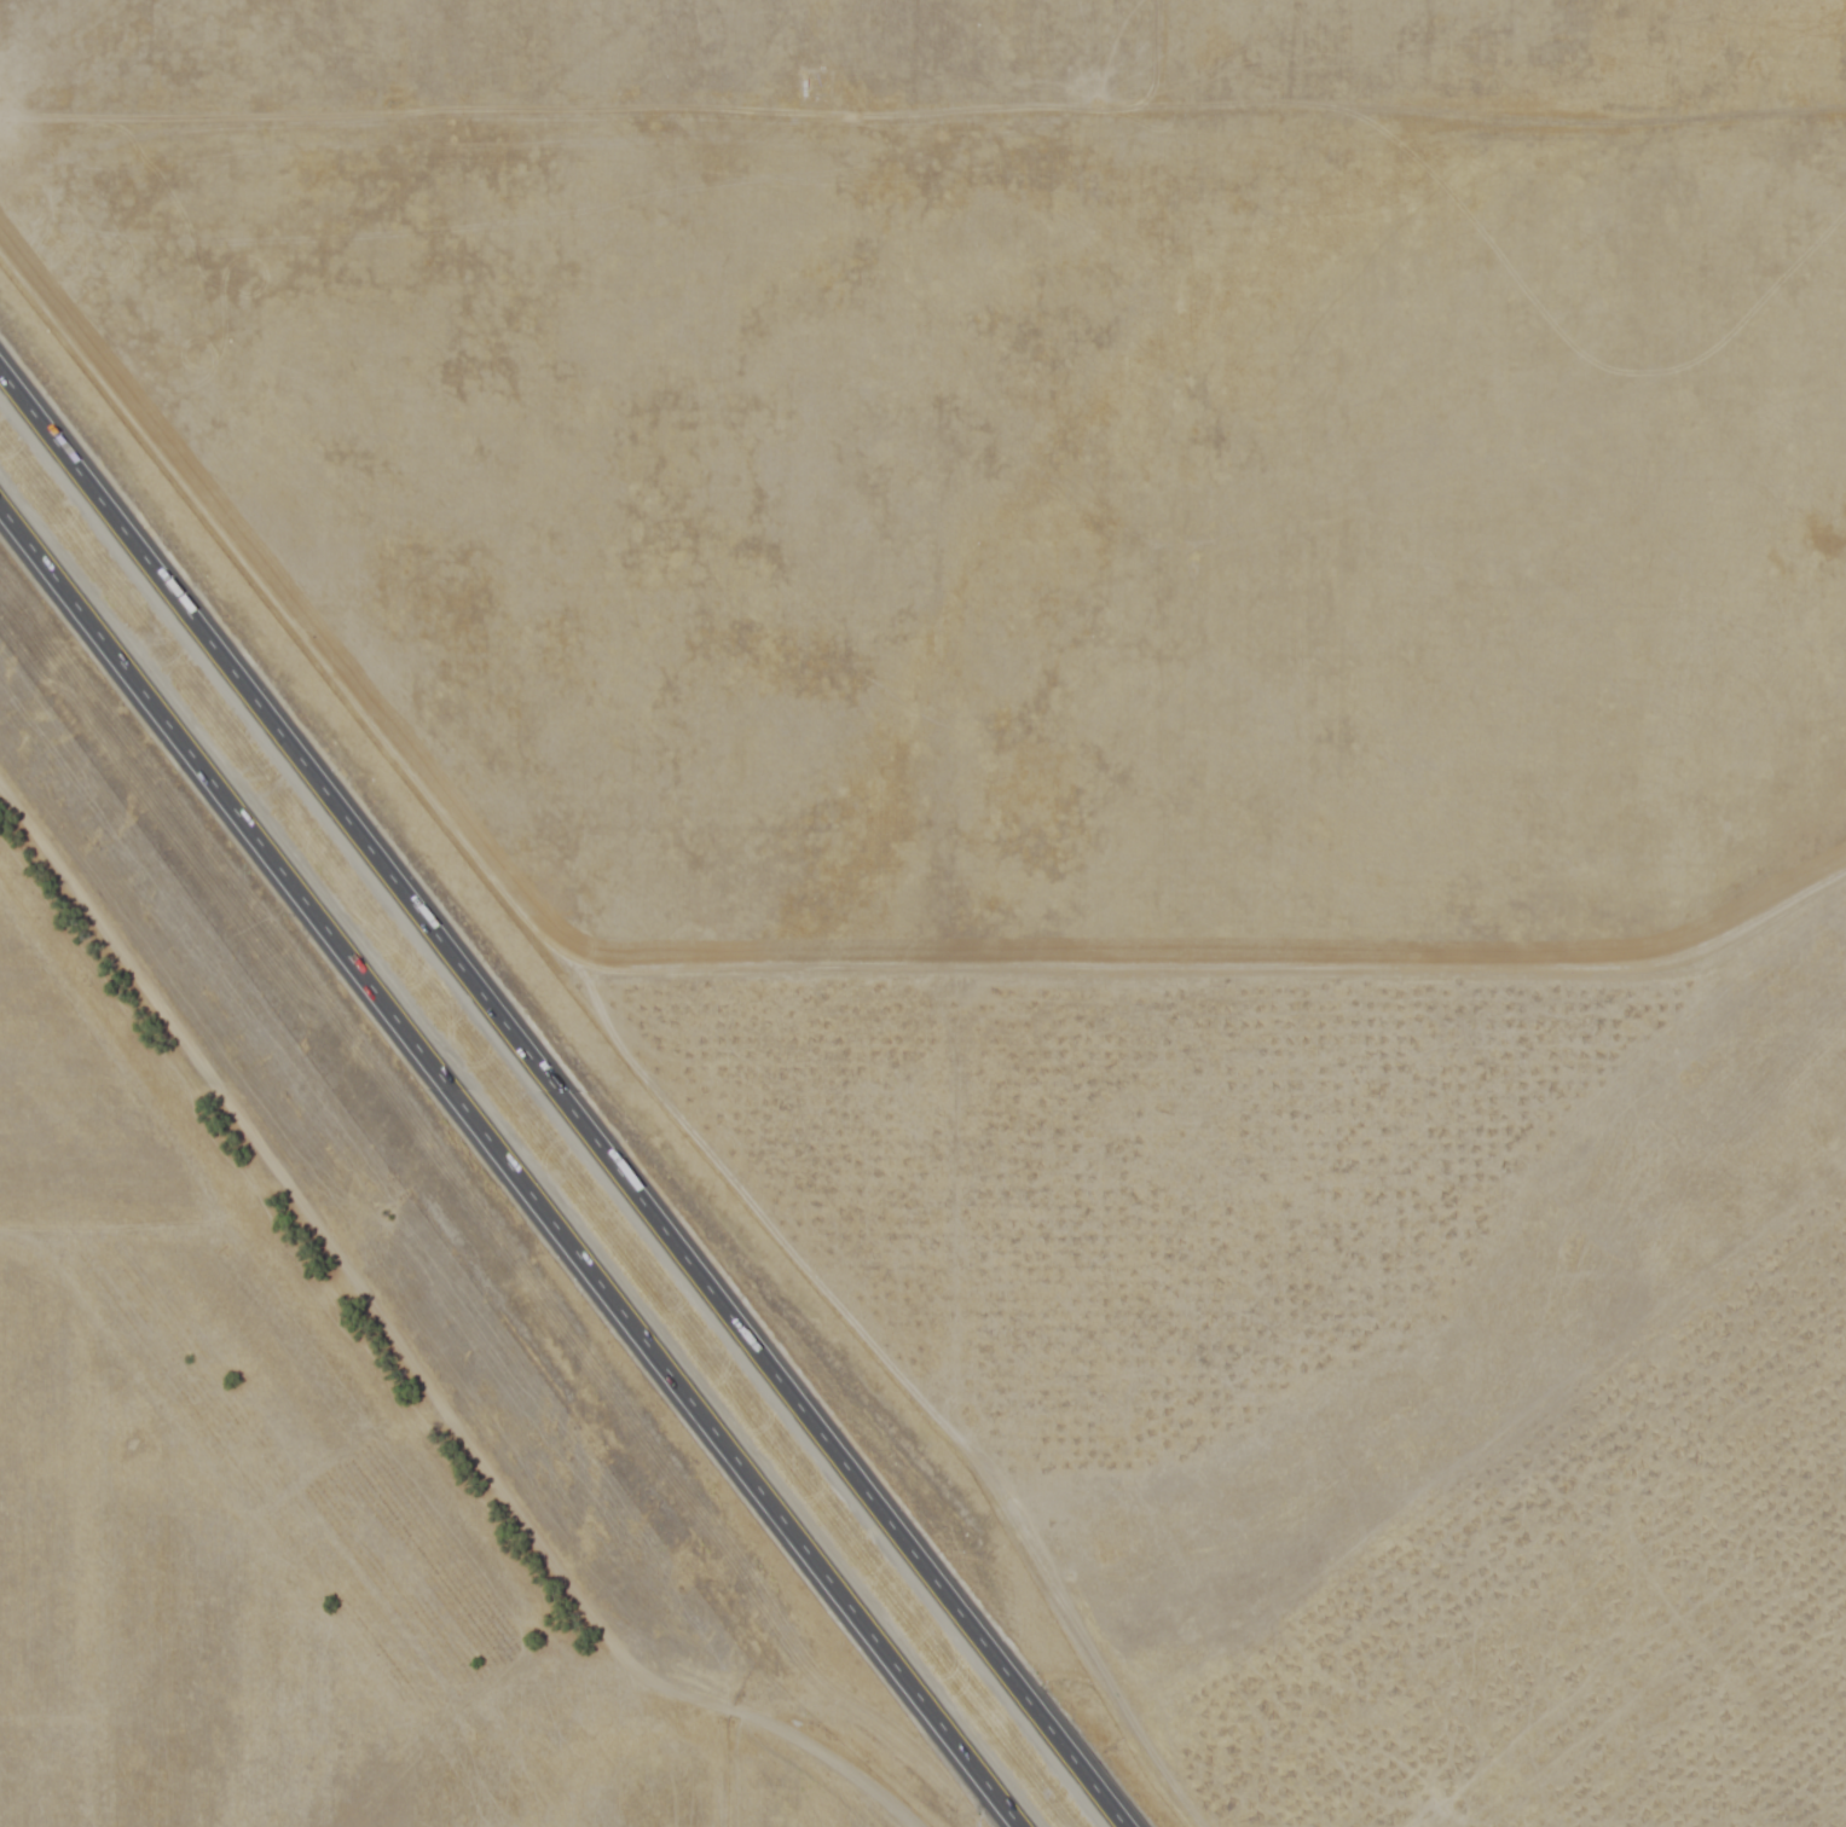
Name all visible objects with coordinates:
road: (922, 116)
crop: (1113, 762)
road: (561, 1102)
road: (508, 1170)
crop: (278, 1374)

